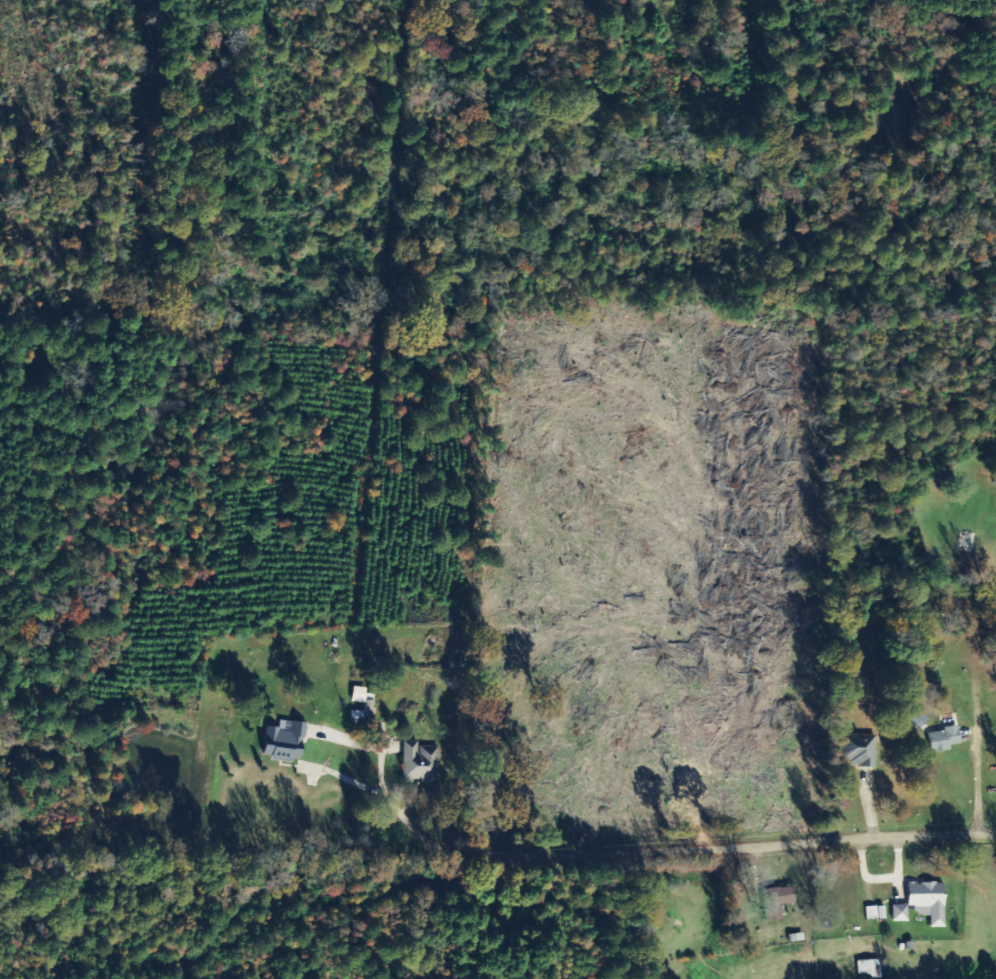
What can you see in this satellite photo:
building: (944, 739)
building: (286, 741)
building: (860, 750)
building: (421, 762)
road: (741, 850)
building: (777, 901)
building: (930, 901)
building: (872, 913)
building: (901, 913)
building: (871, 968)

